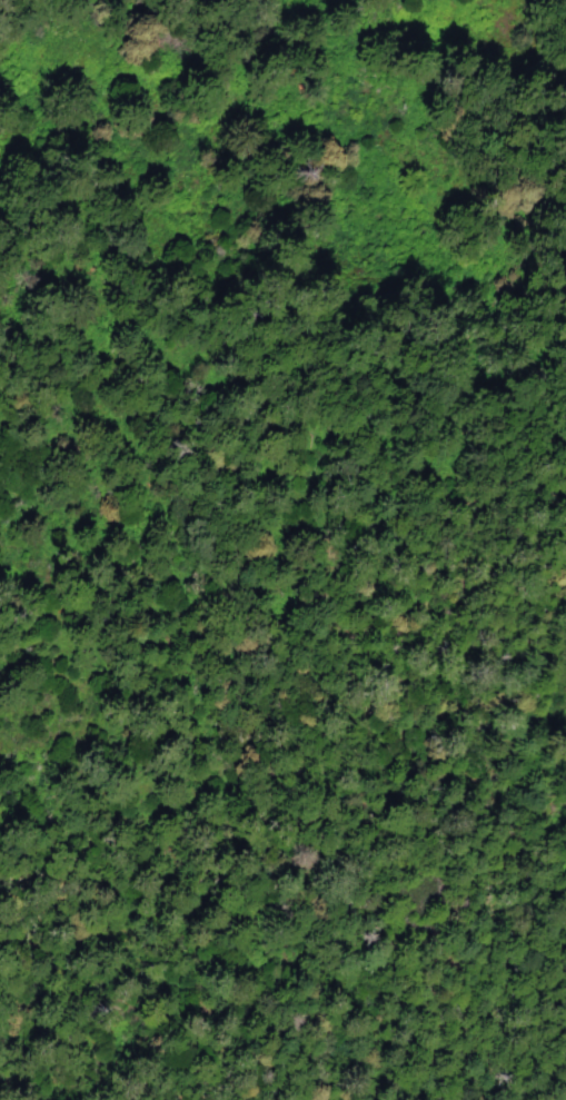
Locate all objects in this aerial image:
road: (266, 407)

